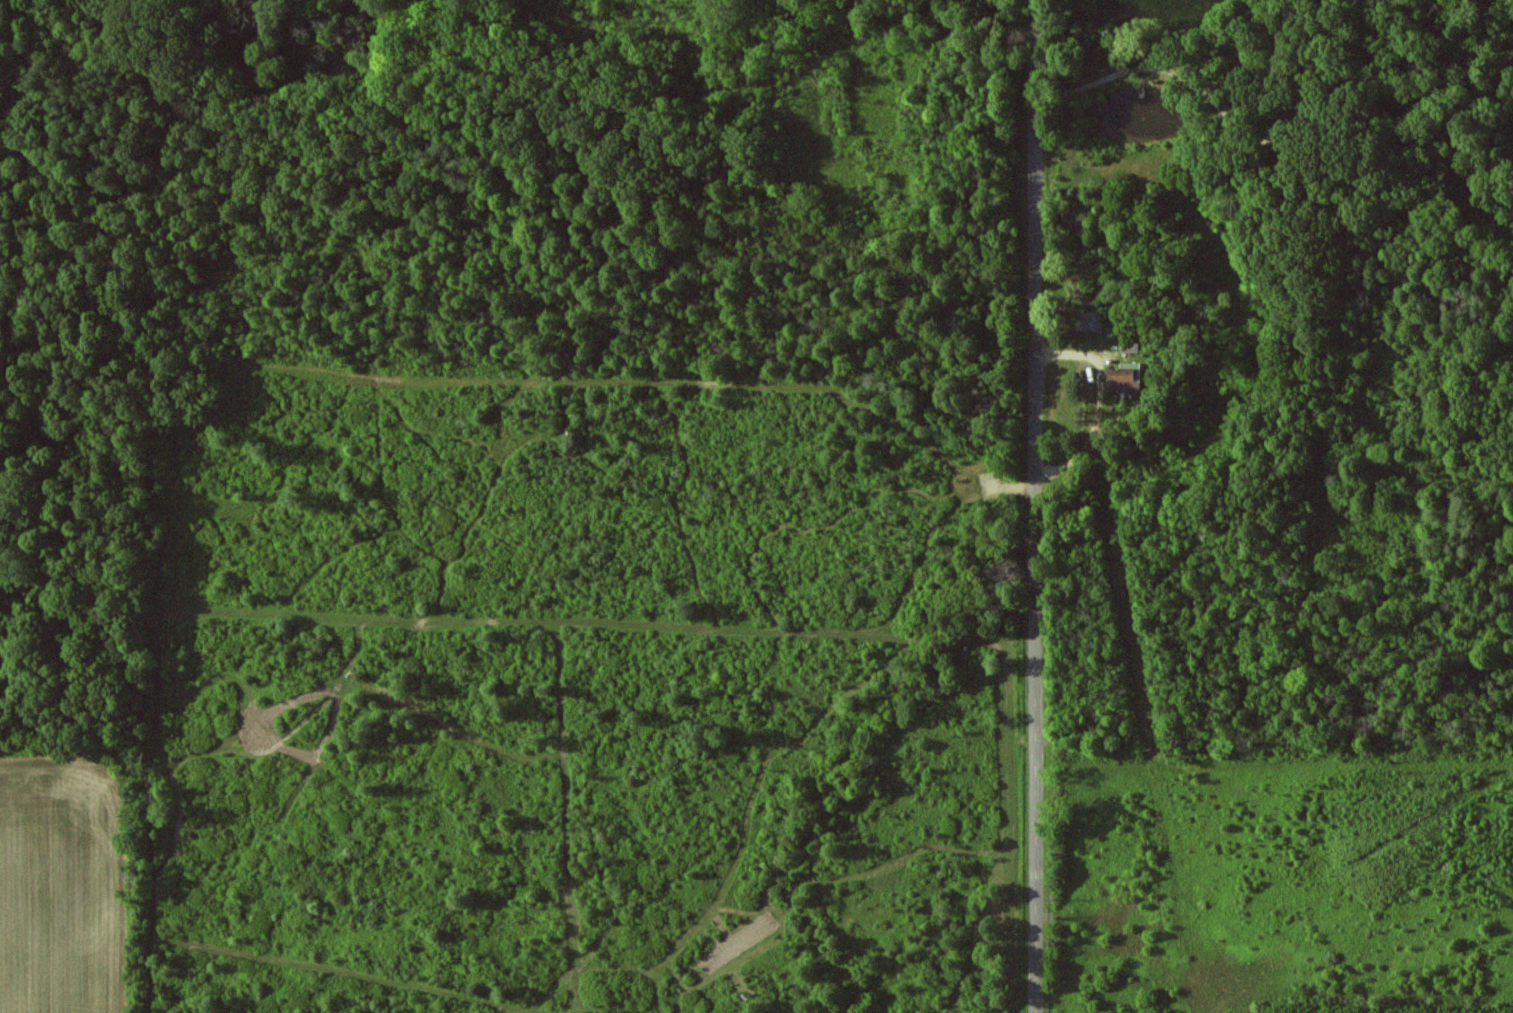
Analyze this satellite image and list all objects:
river: (952, 31)
river: (303, 72)
building: (1091, 321)
road: (1091, 398)
road: (1036, 506)

